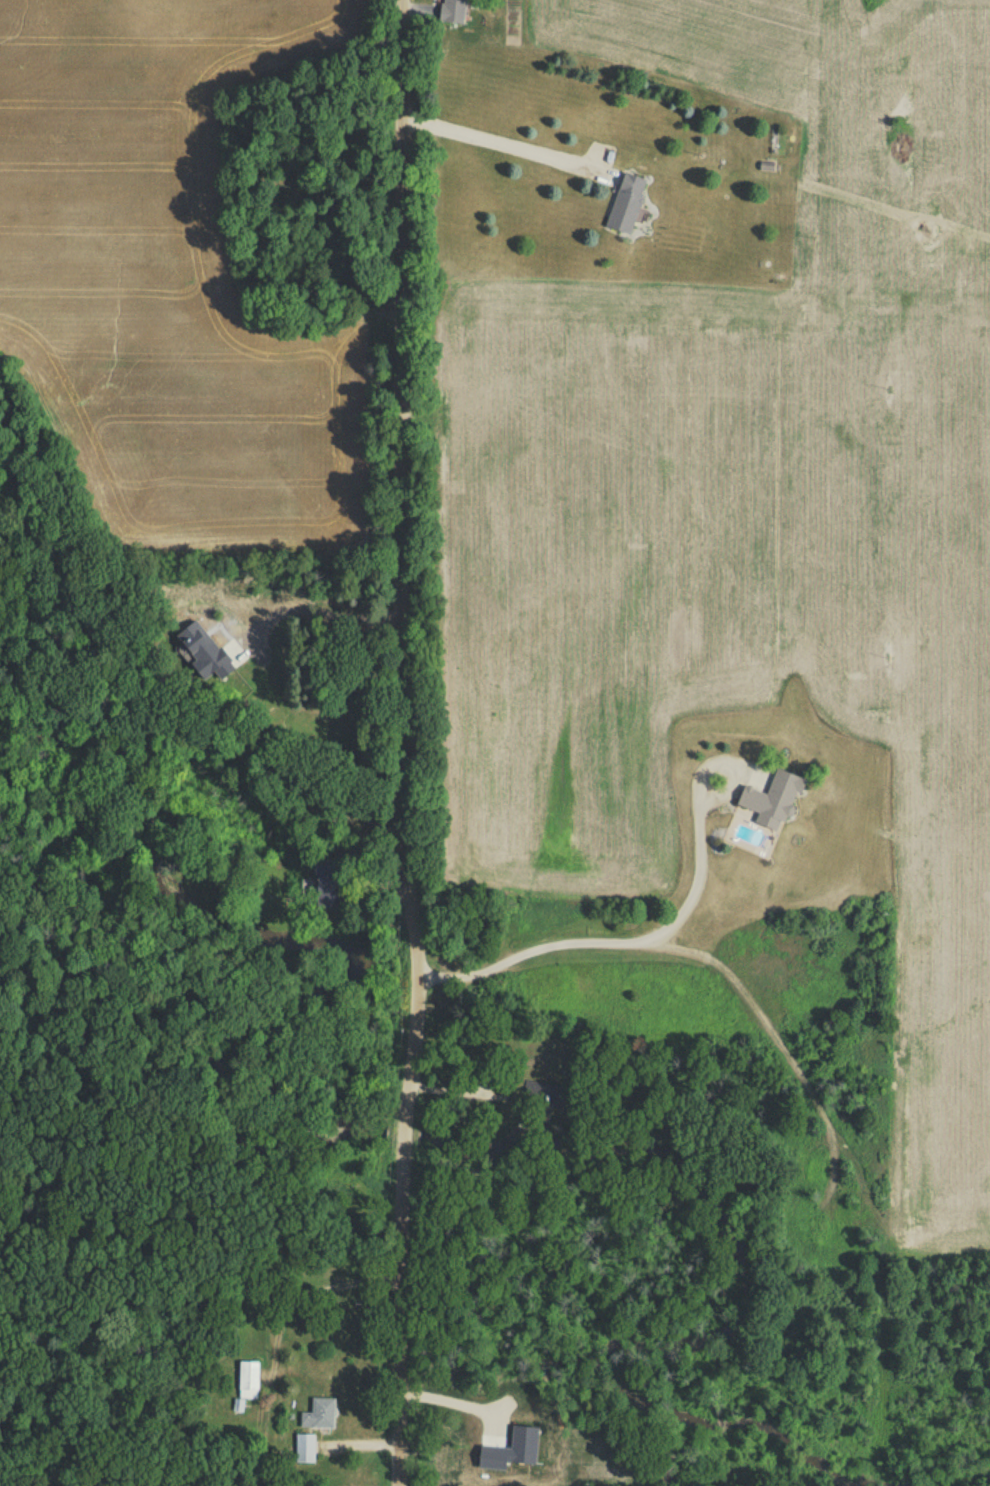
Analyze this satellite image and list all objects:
building: (451, 13)
road: (501, 148)
building: (622, 209)
road: (397, 744)
building: (769, 805)
road: (671, 925)
building: (546, 1098)
building: (246, 1383)
building: (318, 1418)
building: (303, 1452)

